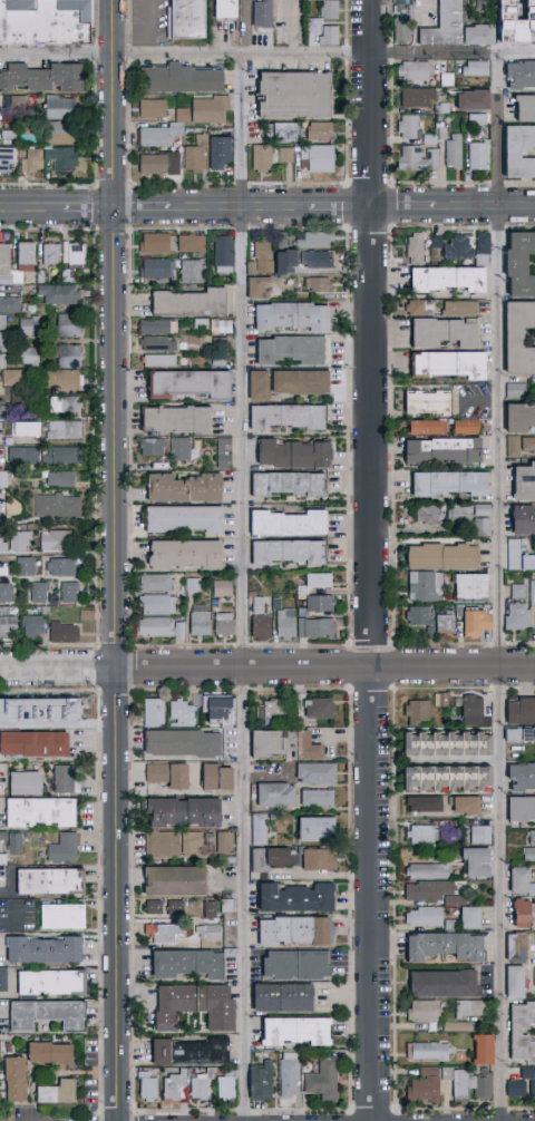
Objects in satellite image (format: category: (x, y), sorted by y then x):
building: (327, 9)
building: (403, 9)
building: (228, 10)
building: (265, 17)
building: (193, 20)
building: (49, 22)
building: (485, 23)
building: (446, 26)
building: (320, 31)
building: (403, 31)
building: (533, 32)
road: (148, 33)
road: (266, 56)
building: (471, 67)
building: (409, 69)
building: (517, 74)
building: (41, 76)
building: (175, 78)
building: (288, 95)
building: (415, 95)
building: (469, 98)
building: (11, 101)
building: (56, 106)
building: (148, 107)
building: (206, 107)
building: (522, 108)
building: (178, 119)
building: (476, 123)
building: (406, 125)
building: (280, 130)
building: (315, 130)
building: (55, 131)
building: (152, 135)
building: (451, 149)
building: (217, 150)
building: (519, 152)
building: (283, 154)
building: (476, 154)
building: (3, 155)
building: (195, 156)
building: (173, 157)
building: (257, 157)
building: (314, 157)
building: (415, 157)
building: (150, 163)
building: (62, 164)
road: (266, 207)
building: (310, 238)
building: (155, 242)
building: (188, 242)
building: (480, 242)
building: (450, 245)
building: (412, 247)
building: (49, 252)
building: (70, 252)
building: (222, 253)
building: (20, 255)
building: (3, 257)
building: (257, 257)
building: (311, 259)
building: (515, 264)
building: (154, 267)
building: (291, 269)
building: (188, 270)
building: (445, 277)
building: (314, 283)
building: (254, 286)
building: (57, 293)
building: (186, 301)
building: (8, 303)
building: (457, 306)
building: (414, 308)
building: (286, 315)
building: (65, 323)
building: (155, 325)
building: (438, 332)
road: (116, 334)
building: (514, 338)
building: (154, 343)
building: (28, 353)
building: (67, 354)
building: (156, 360)
building: (435, 363)
building: (465, 364)
building: (61, 380)
building: (10, 381)
building: (283, 382)
building: (185, 383)
building: (513, 390)
building: (421, 401)
building: (64, 402)
building: (283, 416)
building: (516, 417)
building: (172, 419)
building: (463, 426)
building: (21, 427)
building: (418, 427)
building: (62, 428)
building: (517, 445)
building: (149, 446)
building: (178, 448)
building: (437, 450)
building: (222, 452)
building: (288, 452)
building: (22, 454)
building: (60, 454)
building: (2, 478)
building: (58, 478)
building: (521, 480)
building: (282, 482)
building: (445, 482)
building: (178, 487)
building: (56, 505)
building: (11, 507)
building: (424, 514)
building: (468, 517)
building: (179, 518)
building: (519, 520)
building: (284, 523)
building: (17, 539)
building: (55, 539)
building: (1, 545)
building: (282, 550)
building: (179, 554)
building: (517, 555)
building: (437, 556)
road: (374, 559)
building: (22, 565)
building: (59, 566)
building: (313, 579)
building: (153, 582)
building: (422, 585)
building: (466, 585)
building: (531, 586)
building: (220, 587)
road: (242, 588)
road: (495, 588)
building: (515, 589)
building: (37, 591)
building: (68, 591)
building: (2, 592)
building: (317, 602)
building: (156, 604)
building: (416, 615)
building: (514, 615)
building: (196, 618)
building: (533, 618)
building: (442, 622)
building: (473, 622)
building: (221, 623)
building: (283, 623)
building: (7, 625)
building: (31, 625)
building: (257, 626)
building: (313, 626)
building: (158, 627)
building: (62, 632)
road: (325, 667)
road: (58, 670)
building: (39, 705)
building: (317, 705)
building: (216, 708)
building: (269, 708)
building: (518, 709)
building: (414, 710)
building: (470, 710)
building: (153, 711)
building: (179, 712)
building: (524, 732)
building: (266, 740)
building: (31, 741)
building: (177, 741)
building: (439, 741)
building: (302, 743)
building: (313, 771)
building: (165, 772)
building: (213, 774)
building: (439, 774)
building: (519, 774)
building: (64, 779)
building: (22, 781)
building: (272, 792)
building: (314, 796)
building: (422, 801)
building: (460, 802)
building: (518, 806)
building: (177, 809)
building: (16, 810)
building: (55, 810)
building: (310, 826)
building: (256, 827)
building: (420, 831)
building: (477, 832)
building: (531, 836)
building: (12, 840)
building: (222, 840)
building: (160, 841)
building: (189, 841)
building: (61, 847)
building: (527, 852)
building: (264, 856)
building: (315, 857)
building: (473, 860)
building: (424, 870)
building: (1, 874)
building: (169, 878)
building: (514, 878)
building: (46, 879)
building: (531, 888)
building: (425, 889)
road: (116, 895)
building: (291, 895)
building: (153, 905)
building: (189, 907)
building: (461, 910)
building: (529, 910)
building: (516, 912)
building: (59, 915)
building: (420, 915)
building: (160, 930)
building: (533, 936)
building: (439, 944)
building: (512, 945)
building: (40, 947)
road: (532, 956)
building: (182, 962)
building: (290, 962)
building: (533, 975)
building: (2, 977)
building: (47, 979)
building: (509, 979)
building: (438, 981)
building: (276, 995)
building: (191, 1003)
building: (468, 1006)
building: (420, 1008)
building: (42, 1012)
building: (454, 1025)
building: (289, 1029)
building: (518, 1030)
building: (187, 1050)
building: (428, 1050)
building: (45, 1051)
building: (288, 1076)
building: (11, 1078)
building: (320, 1079)
building: (527, 1079)
building: (257, 1081)
building: (468, 1082)
building: (145, 1084)
building: (174, 1084)
building: (422, 1084)
building: (197, 1085)
building: (224, 1085)
building: (513, 1086)
building: (52, 1090)

